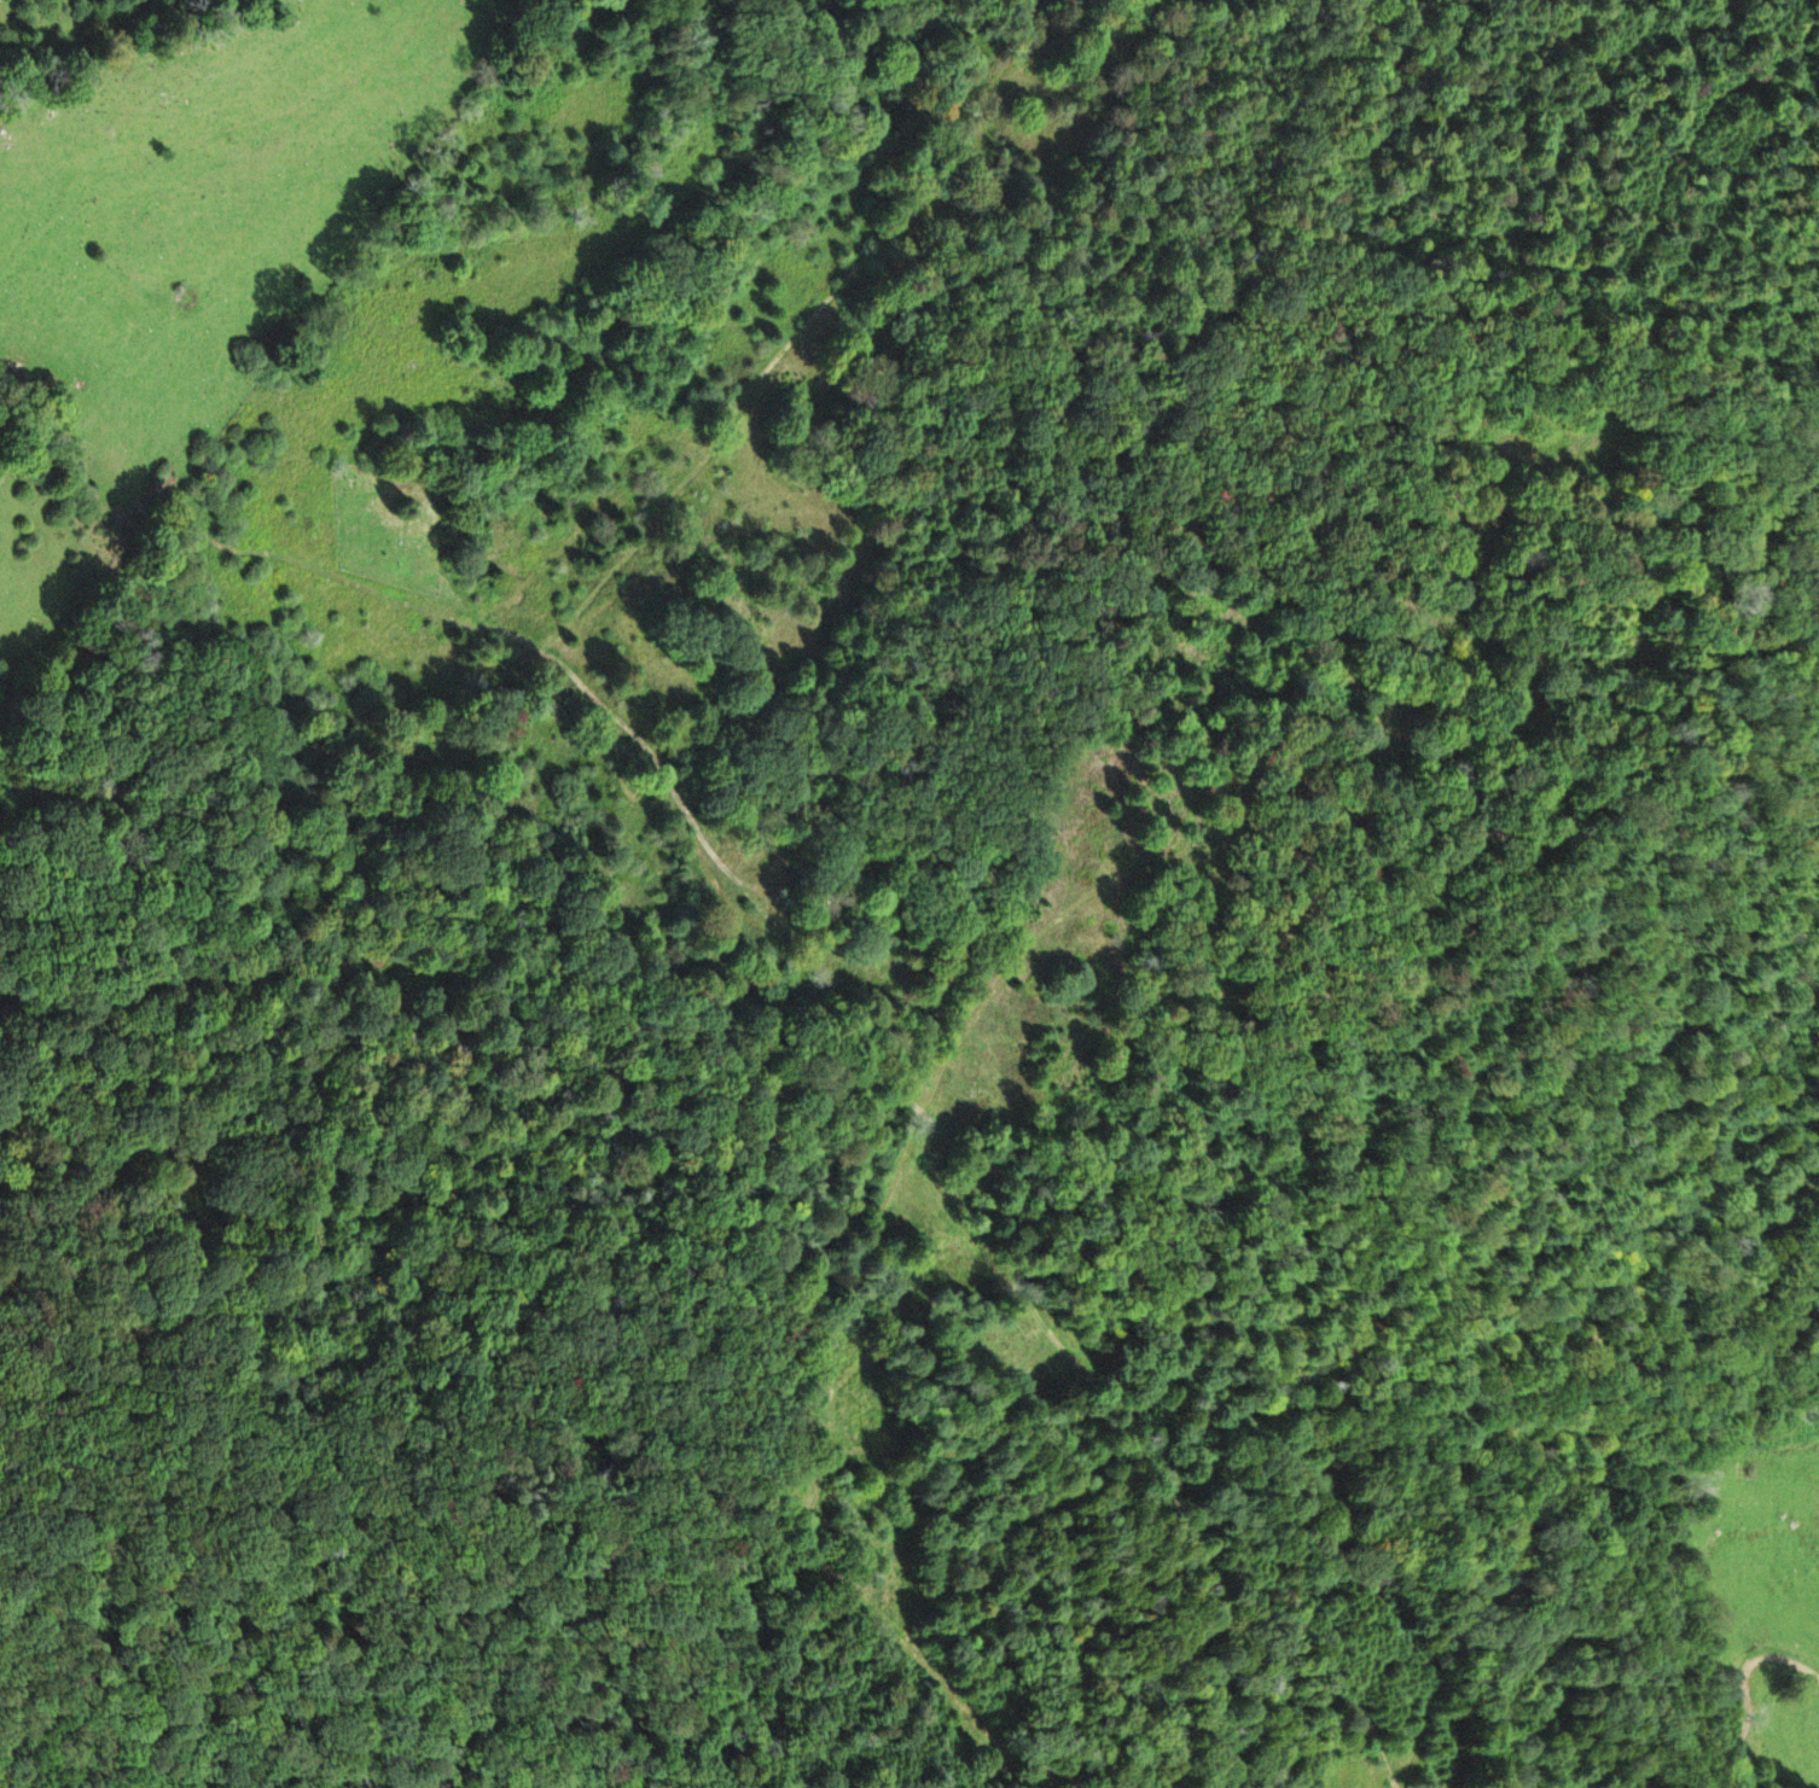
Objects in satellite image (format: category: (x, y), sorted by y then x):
road: (1162, 866)
road: (1745, 1688)

